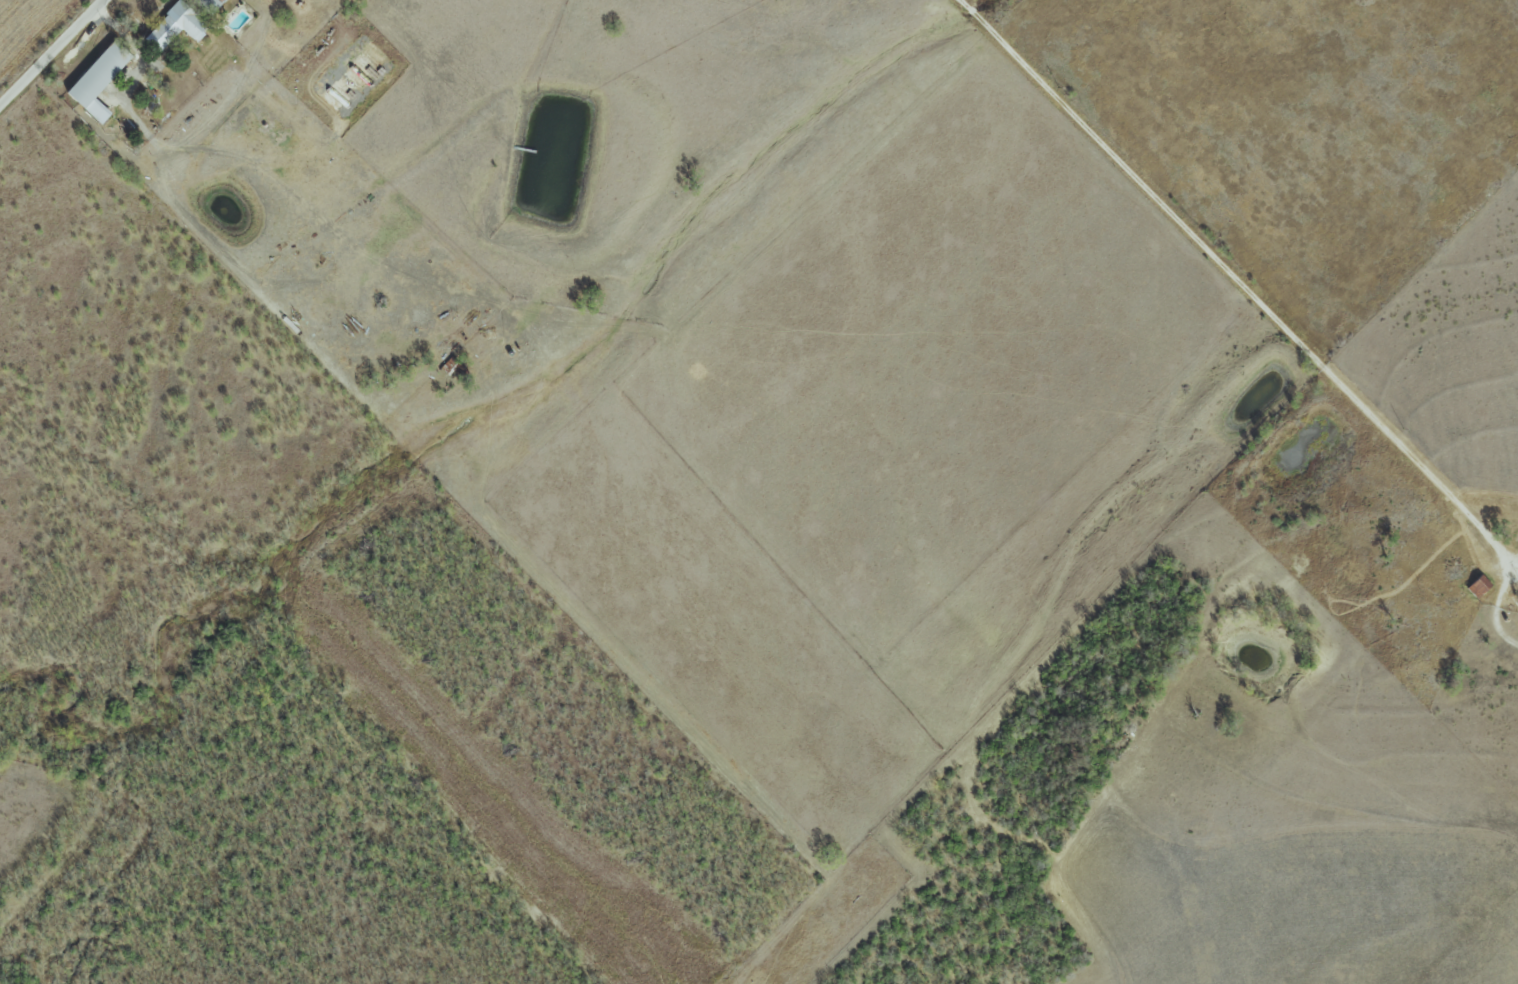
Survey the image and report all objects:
road: (960, 1)
building: (207, 5)
road: (970, 10)
building: (174, 26)
road: (51, 52)
building: (97, 79)
road: (1243, 287)
building: (1477, 586)

